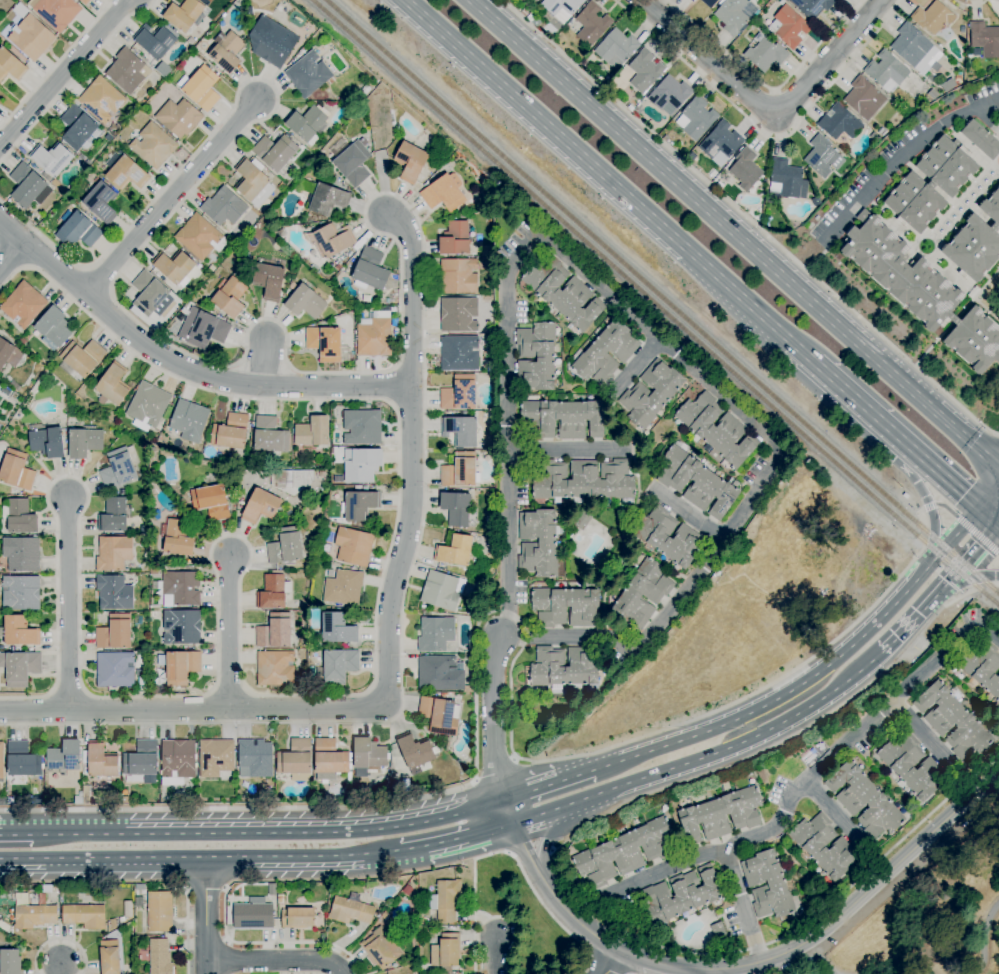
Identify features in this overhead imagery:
building: (536, 0)
building: (692, 1)
building: (84, 2)
building: (709, 2)
road: (970, 5)
building: (561, 6)
building: (812, 7)
building: (21, 10)
building: (57, 12)
building: (185, 15)
building: (735, 15)
building: (933, 17)
building: (592, 24)
building: (790, 27)
building: (962, 29)
building: (32, 37)
building: (985, 39)
building: (155, 40)
building: (272, 41)
building: (911, 45)
building: (616, 48)
building: (227, 51)
building: (766, 54)
building: (739, 59)
building: (585, 63)
road: (56, 64)
building: (11, 65)
building: (600, 68)
building: (163, 70)
building: (126, 71)
building: (645, 71)
building: (887, 71)
road: (63, 72)
building: (308, 74)
building: (958, 77)
road: (74, 78)
building: (948, 85)
building: (201, 88)
road: (769, 88)
building: (366, 89)
building: (670, 93)
building: (933, 94)
building: (864, 98)
building: (101, 99)
building: (630, 108)
road: (766, 108)
building: (179, 117)
building: (696, 118)
building: (309, 123)
building: (840, 123)
building: (79, 128)
building: (881, 132)
road: (764, 135)
building: (666, 138)
building: (981, 139)
building: (721, 143)
building: (154, 145)
building: (275, 152)
road: (903, 155)
building: (821, 156)
building: (53, 162)
building: (410, 162)
building: (353, 163)
building: (746, 169)
building: (127, 173)
building: (785, 179)
building: (253, 181)
road: (382, 181)
road: (610, 182)
building: (932, 183)
building: (26, 185)
building: (719, 185)
building: (443, 192)
road: (171, 197)
building: (325, 197)
road: (374, 197)
road: (396, 198)
building: (816, 201)
building: (103, 202)
building: (224, 206)
road: (366, 209)
road: (748, 219)
building: (78, 230)
building: (282, 233)
road: (736, 235)
building: (200, 237)
building: (455, 238)
building: (330, 240)
building: (976, 242)
road: (11, 254)
building: (247, 256)
building: (174, 266)
building: (338, 267)
building: (370, 271)
building: (458, 276)
building: (269, 280)
building: (921, 290)
building: (563, 292)
building: (150, 294)
building: (230, 297)
railway: (661, 297)
building: (364, 298)
building: (305, 301)
building: (387, 301)
railway: (655, 303)
building: (23, 304)
road: (400, 311)
building: (459, 314)
building: (182, 315)
building: (53, 328)
building: (203, 328)
road: (651, 331)
building: (396, 334)
building: (374, 335)
building: (22, 341)
building: (324, 343)
building: (197, 352)
building: (458, 353)
building: (606, 353)
building: (9, 354)
building: (536, 355)
building: (83, 357)
road: (265, 363)
road: (182, 365)
road: (637, 365)
building: (111, 386)
road: (391, 386)
building: (459, 393)
road: (845, 393)
building: (645, 397)
building: (148, 406)
building: (562, 419)
building: (189, 420)
building: (362, 426)
building: (716, 429)
building: (461, 431)
building: (230, 432)
building: (312, 432)
building: (270, 435)
building: (47, 442)
building: (84, 442)
road: (565, 449)
building: (483, 457)
building: (361, 465)
road: (927, 466)
building: (118, 469)
building: (16, 470)
building: (459, 470)
building: (321, 474)
building: (291, 480)
building: (584, 480)
building: (697, 482)
building: (121, 492)
road: (925, 499)
building: (211, 502)
building: (359, 505)
building: (260, 506)
building: (456, 508)
traffic signals: (976, 510)
building: (113, 515)
road: (688, 515)
building: (19, 516)
road: (985, 518)
building: (489, 520)
building: (582, 520)
road: (962, 522)
road: (996, 524)
traffic signals: (994, 527)
building: (144, 529)
road: (996, 529)
building: (491, 532)
road: (955, 534)
building: (667, 536)
building: (178, 538)
building: (538, 543)
building: (285, 546)
building: (354, 546)
building: (454, 550)
building: (21, 553)
building: (113, 553)
road: (961, 562)
building: (154, 570)
road: (963, 584)
road: (998, 585)
building: (181, 588)
building: (343, 588)
building: (442, 590)
building: (113, 592)
building: (273, 592)
road: (969, 592)
building: (21, 593)
building: (643, 593)
road: (68, 603)
building: (564, 607)
road: (510, 613)
building: (154, 614)
building: (181, 627)
building: (336, 628)
road: (902, 628)
road: (240, 629)
building: (19, 631)
building: (275, 631)
building: (114, 633)
building: (436, 633)
road: (229, 634)
road: (388, 647)
building: (469, 658)
building: (181, 666)
building: (339, 666)
building: (982, 666)
building: (20, 667)
building: (563, 667)
building: (275, 668)
building: (115, 669)
building: (441, 674)
building: (142, 683)
road: (769, 703)
building: (440, 716)
road: (493, 719)
building: (953, 720)
road: (926, 737)
building: (437, 738)
building: (369, 753)
building: (416, 753)
building: (64, 756)
building: (216, 757)
building: (255, 758)
road: (704, 758)
road: (513, 759)
building: (1, 760)
building: (22, 760)
building: (99, 760)
building: (296, 760)
building: (330, 760)
building: (142, 761)
building: (177, 762)
building: (912, 766)
road: (494, 771)
road: (815, 771)
road: (577, 774)
road: (475, 780)
road: (531, 789)
building: (86, 794)
building: (124, 800)
building: (864, 800)
road: (832, 810)
building: (722, 814)
road: (268, 832)
road: (1, 834)
road: (16, 834)
road: (469, 835)
road: (549, 835)
road: (529, 845)
building: (824, 846)
road: (412, 849)
road: (552, 851)
road: (508, 852)
building: (625, 852)
road: (199, 859)
road: (137, 883)
building: (767, 885)
road: (206, 887)
building: (271, 890)
building: (678, 896)
building: (280, 899)
building: (445, 900)
road: (474, 900)
road: (540, 900)
road: (743, 906)
building: (128, 909)
building: (350, 910)
park: (934, 911)
building: (159, 912)
building: (253, 914)
building: (84, 915)
building: (34, 916)
road: (206, 916)
building: (383, 916)
building: (298, 918)
road: (497, 918)
building: (122, 919)
building: (112, 923)
building: (718, 931)
road: (983, 937)
road: (59, 939)
road: (779, 939)
road: (273, 942)
building: (381, 949)
building: (446, 951)
road: (492, 955)
building: (109, 957)
building: (160, 957)
road: (820, 957)
road: (276, 960)
building: (10, 961)
road: (813, 961)
road: (610, 963)
road: (742, 965)
road: (792, 969)
road: (61, 970)
road: (891, 971)
road: (711, 972)
building: (445, 973)

